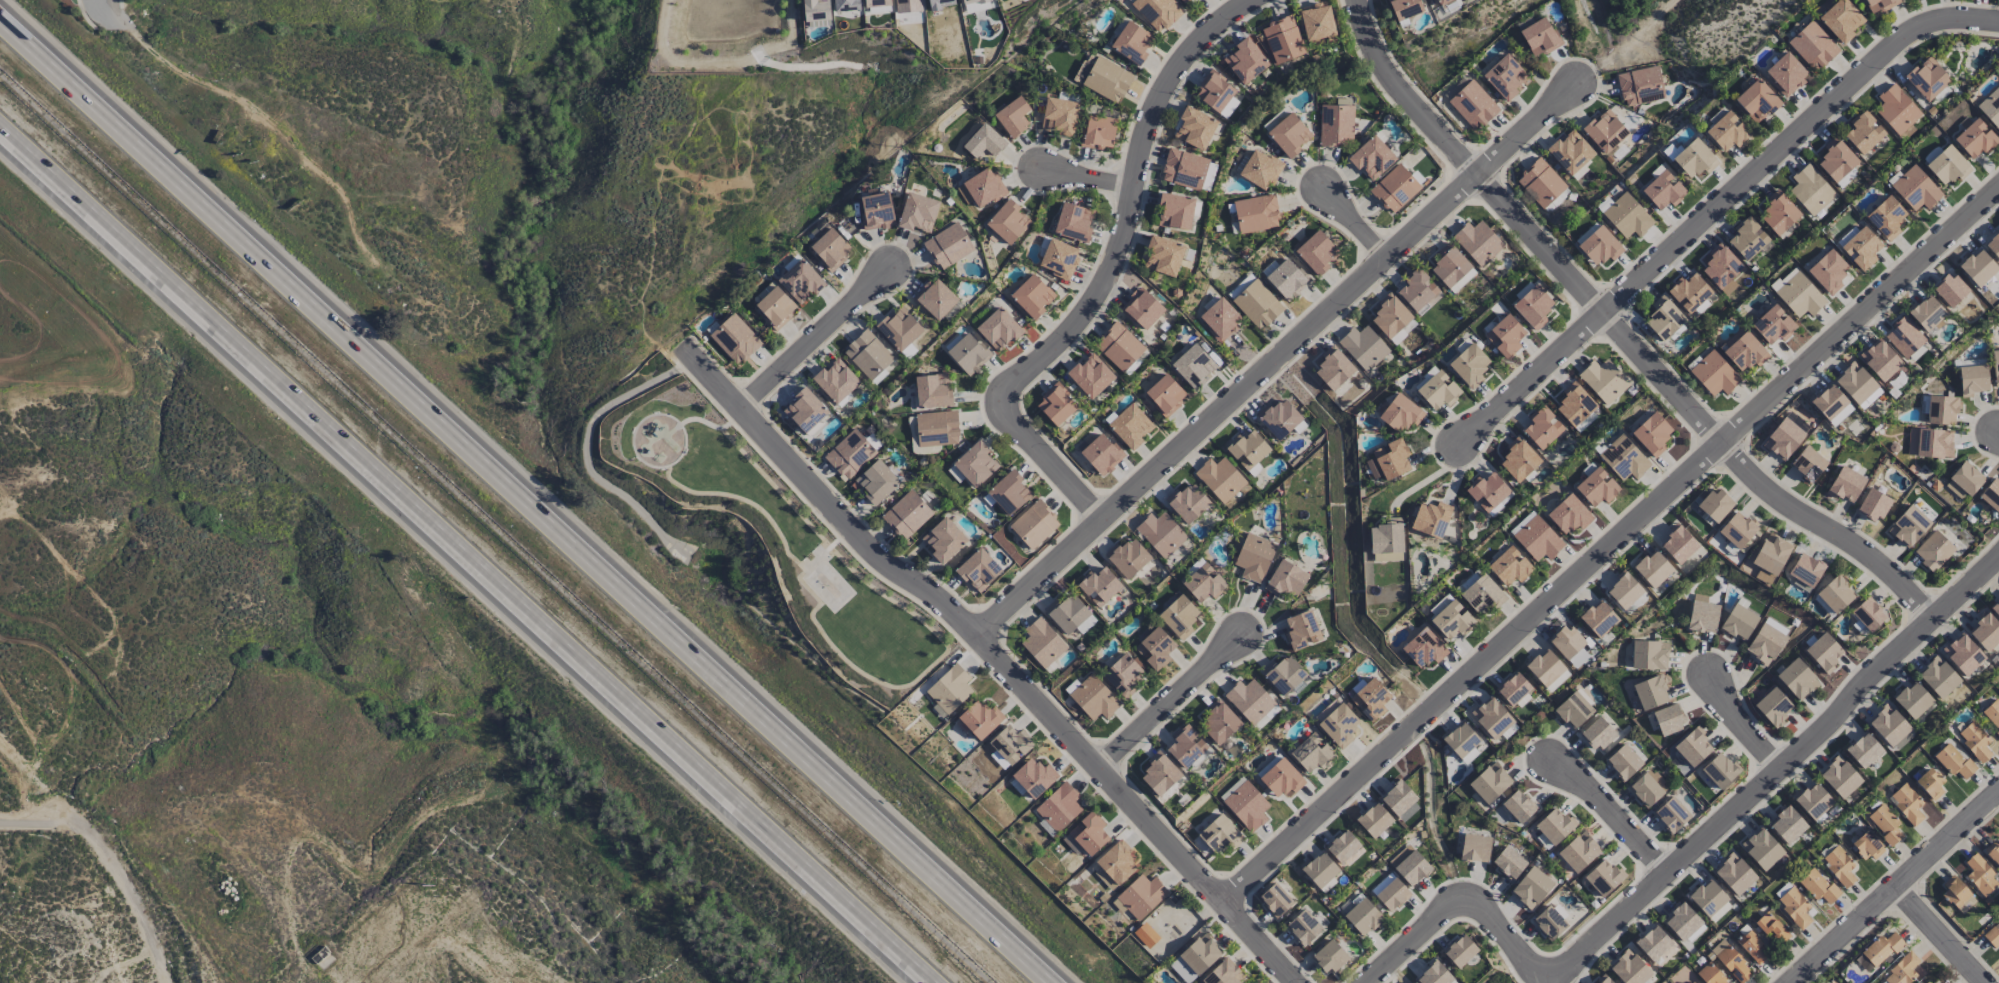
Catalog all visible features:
building: (1185, 1)
building: (1441, 1)
road: (100, 3)
building: (876, 3)
building: (940, 4)
building: (975, 5)
building: (907, 6)
building: (1404, 8)
building: (816, 10)
building: (1157, 12)
building: (1841, 20)
building: (1316, 22)
building: (1539, 37)
building: (1282, 40)
building: (1132, 43)
building: (1813, 46)
building: (1245, 61)
building: (1786, 74)
building: (1505, 76)
building: (1927, 78)
building: (1104, 79)
building: (1640, 86)
building: (1214, 92)
building: (1757, 101)
building: (1473, 105)
building: (1228, 107)
building: (1991, 107)
building: (1896, 109)
building: (1060, 116)
building: (1013, 117)
building: (1276, 118)
road: (270, 123)
building: (1336, 125)
building: (1195, 128)
building: (1604, 131)
building: (1098, 132)
building: (1727, 132)
building: (1863, 132)
building: (1289, 135)
building: (1975, 138)
building: (984, 144)
building: (1570, 152)
building: (1372, 158)
building: (1694, 158)
building: (1838, 163)
building: (1948, 165)
building: (1184, 169)
building: (1260, 169)
road: (1090, 175)
building: (1541, 182)
building: (984, 187)
building: (1395, 188)
building: (1916, 189)
building: (1811, 190)
building: (1663, 191)
building: (964, 194)
road: (1719, 203)
road: (1131, 209)
building: (876, 211)
building: (1176, 211)
building: (918, 213)
building: (1256, 213)
building: (1778, 213)
building: (1627, 216)
building: (1886, 218)
building: (1008, 222)
building: (1074, 222)
road: (1358, 223)
building: (1748, 238)
building: (1478, 242)
building: (1993, 244)
building: (948, 246)
building: (1600, 246)
building: (1861, 248)
building: (830, 249)
building: (1317, 252)
building: (1163, 255)
building: (1059, 259)
building: (1449, 265)
building: (1722, 268)
building: (1978, 268)
building: (1828, 271)
building: (1285, 278)
building: (800, 280)
building: (1949, 290)
building: (1418, 291)
building: (1689, 292)
building: (1032, 296)
building: (1800, 296)
building: (935, 299)
building: (1255, 301)
building: (776, 307)
building: (1534, 307)
building: (1142, 309)
building: (1927, 314)
building: (1390, 315)
building: (1664, 318)
building: (1220, 320)
building: (1773, 324)
road: (1623, 328)
building: (899, 329)
building: (999, 329)
building: (1505, 336)
road: (813, 337)
building: (1904, 337)
building: (735, 339)
building: (1119, 346)
building: (1363, 347)
building: (1743, 350)
building: (868, 354)
building: (968, 354)
road: (1277, 357)
building: (1880, 360)
building: (1469, 365)
building: (1194, 366)
building: (1995, 367)
building: (1333, 368)
building: (1714, 374)
building: (1090, 376)
building: (1972, 379)
building: (1603, 380)
building: (836, 381)
building: (1857, 385)
building: (932, 390)
building: (1438, 390)
building: (1165, 394)
building: (1056, 404)
building: (1575, 404)
building: (1831, 405)
building: (805, 410)
building: (1942, 410)
building: (1400, 413)
building: (1279, 418)
road: (705, 420)
building: (1587, 420)
building: (1131, 426)
building: (1542, 427)
building: (937, 428)
building: (1652, 434)
building: (1784, 439)
building: (1930, 443)
road: (586, 449)
building: (1247, 449)
building: (1102, 455)
road: (640, 458)
building: (1624, 458)
building: (1519, 459)
building: (1389, 461)
building: (1808, 463)
building: (975, 464)
road: (1057, 465)
road: (1431, 475)
building: (1220, 478)
building: (876, 481)
building: (1964, 481)
building: (1846, 484)
building: (1597, 487)
building: (1487, 491)
building: (1010, 493)
building: (1991, 495)
road: (527, 501)
building: (1187, 503)
building: (1716, 504)
building: (1873, 504)
road: (809, 506)
building: (906, 514)
building: (1569, 514)
building: (1431, 518)
building: (1034, 524)
building: (1909, 526)
building: (1737, 530)
building: (1161, 533)
building: (1538, 539)
building: (944, 540)
park: (757, 542)
building: (1387, 542)
building: (1678, 544)
road: (830, 545)
road: (1612, 545)
building: (1934, 550)
building: (1772, 554)
road: (464, 556)
building: (1254, 557)
building: (1127, 558)
building: (1510, 566)
building: (1652, 568)
building: (978, 570)
building: (1806, 570)
building: (1764, 576)
building: (1472, 577)
park: (825, 578)
building: (1285, 579)
building: (1204, 583)
building: (1099, 586)
building: (1624, 590)
building: (1482, 594)
building: (1836, 594)
building: (1995, 608)
building: (1066, 613)
building: (1868, 614)
building: (1703, 616)
building: (1179, 617)
building: (1598, 618)
building: (1452, 619)
building: (1739, 622)
building: (1086, 624)
building: (1302, 630)
building: (1985, 632)
building: (1043, 643)
building: (1765, 643)
building: (1569, 645)
building: (1155, 648)
building: (1424, 648)
building: (1824, 652)
building: (1963, 654)
road: (999, 655)
building: (1649, 655)
building: (1544, 667)
building: (1283, 674)
building: (1123, 675)
building: (1938, 677)
building: (1797, 679)
building: (1557, 681)
building: (950, 688)
building: (1513, 689)
building: (1651, 692)
building: (1094, 698)
road: (1169, 698)
building: (1913, 699)
building: (1249, 700)
building: (1370, 700)
building: (1773, 706)
building: (1573, 710)
building: (1993, 713)
building: (1266, 717)
building: (1492, 717)
building: (1668, 719)
building: (979, 720)
building: (1219, 722)
building: (1339, 725)
road: (1744, 726)
building: (1891, 727)
building: (1596, 734)
building: (1460, 739)
building: (1976, 741)
building: (1008, 746)
building: (1186, 746)
building: (1693, 747)
building: (1863, 750)
building: (1311, 753)
building: (1954, 761)
building: (1623, 762)
building: (1720, 770)
building: (1159, 773)
building: (1035, 777)
building: (1839, 777)
road: (34, 782)
building: (1490, 782)
building: (1930, 783)
building: (1647, 788)
building: (1812, 800)
building: (1400, 801)
building: (1245, 803)
building: (1907, 804)
building: (1518, 806)
building: (1059, 807)
road: (1614, 813)
building: (1671, 814)
building: (1374, 820)
building: (1885, 823)
building: (1554, 825)
building: (1787, 825)
building: (1089, 833)
building: (1220, 834)
building: (1342, 846)
building: (1868, 846)
building: (1475, 848)
building: (1762, 848)
building: (1579, 852)
road: (1689, 852)
building: (1994, 853)
road: (114, 861)
building: (1509, 863)
building: (1115, 865)
building: (1410, 865)
building: (1840, 865)
building: (1319, 869)
building: (1734, 874)
building: (1981, 875)
building: (1603, 877)
building: (1818, 886)
road: (1893, 886)
building: (1531, 887)
building: (1390, 892)
building: (1955, 892)
building: (1140, 897)
building: (1707, 898)
building: (1275, 900)
building: (1794, 905)
building: (1363, 916)
building: (1549, 922)
building: (1683, 924)
building: (1303, 927)
building: (1772, 927)
road: (1941, 934)
building: (1146, 935)
building: (1993, 936)
building: (1653, 943)
building: (1753, 947)
building: (1881, 948)
building: (1460, 951)
building: (1330, 957)
building: (1195, 959)
building: (1731, 962)
building: (1629, 968)
building: (1903, 970)
building: (1224, 973)
building: (1434, 974)
building: (1710, 975)
road: (1549, 976)
building: (1603, 979)
building: (1411, 982)
building: (1692, 982)
building: (1929, 982)
building: (1938, 982)

